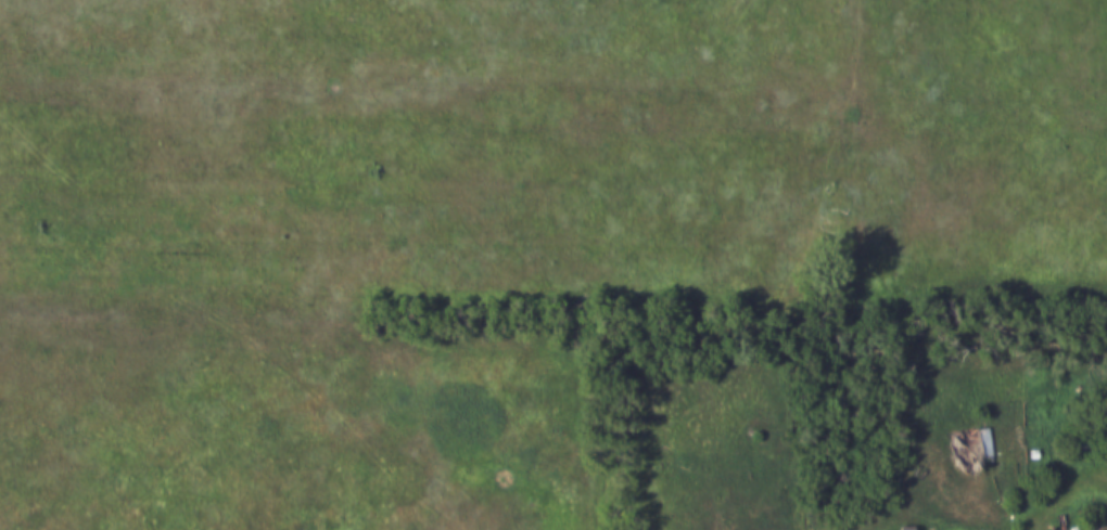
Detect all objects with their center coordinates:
building: (968, 447)
building: (1096, 529)

